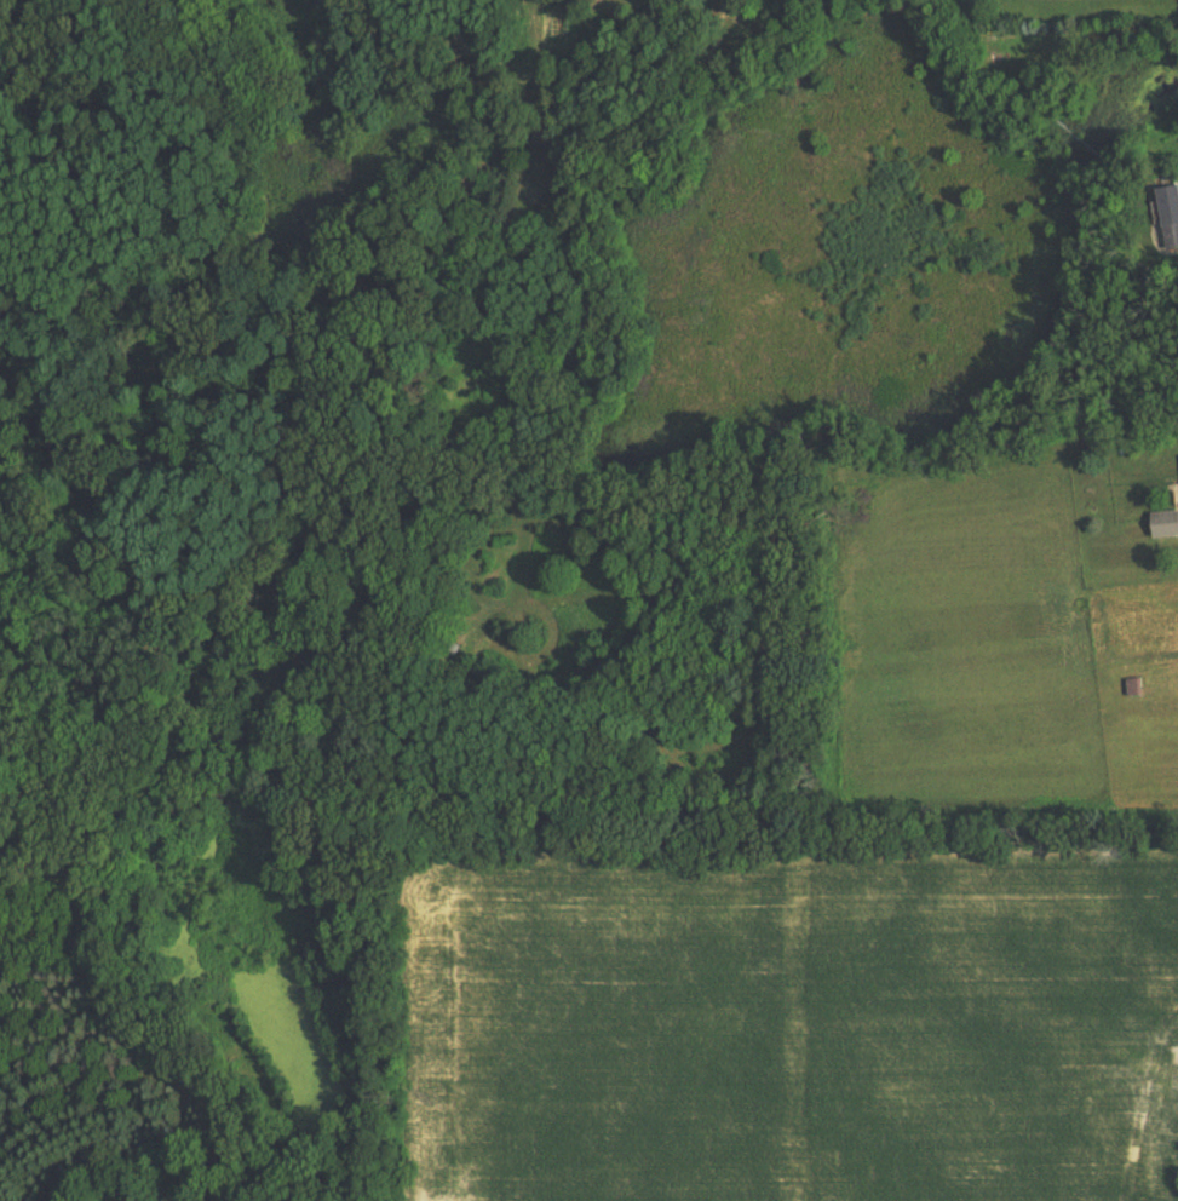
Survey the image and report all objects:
building: (1171, 214)
building: (1165, 524)

